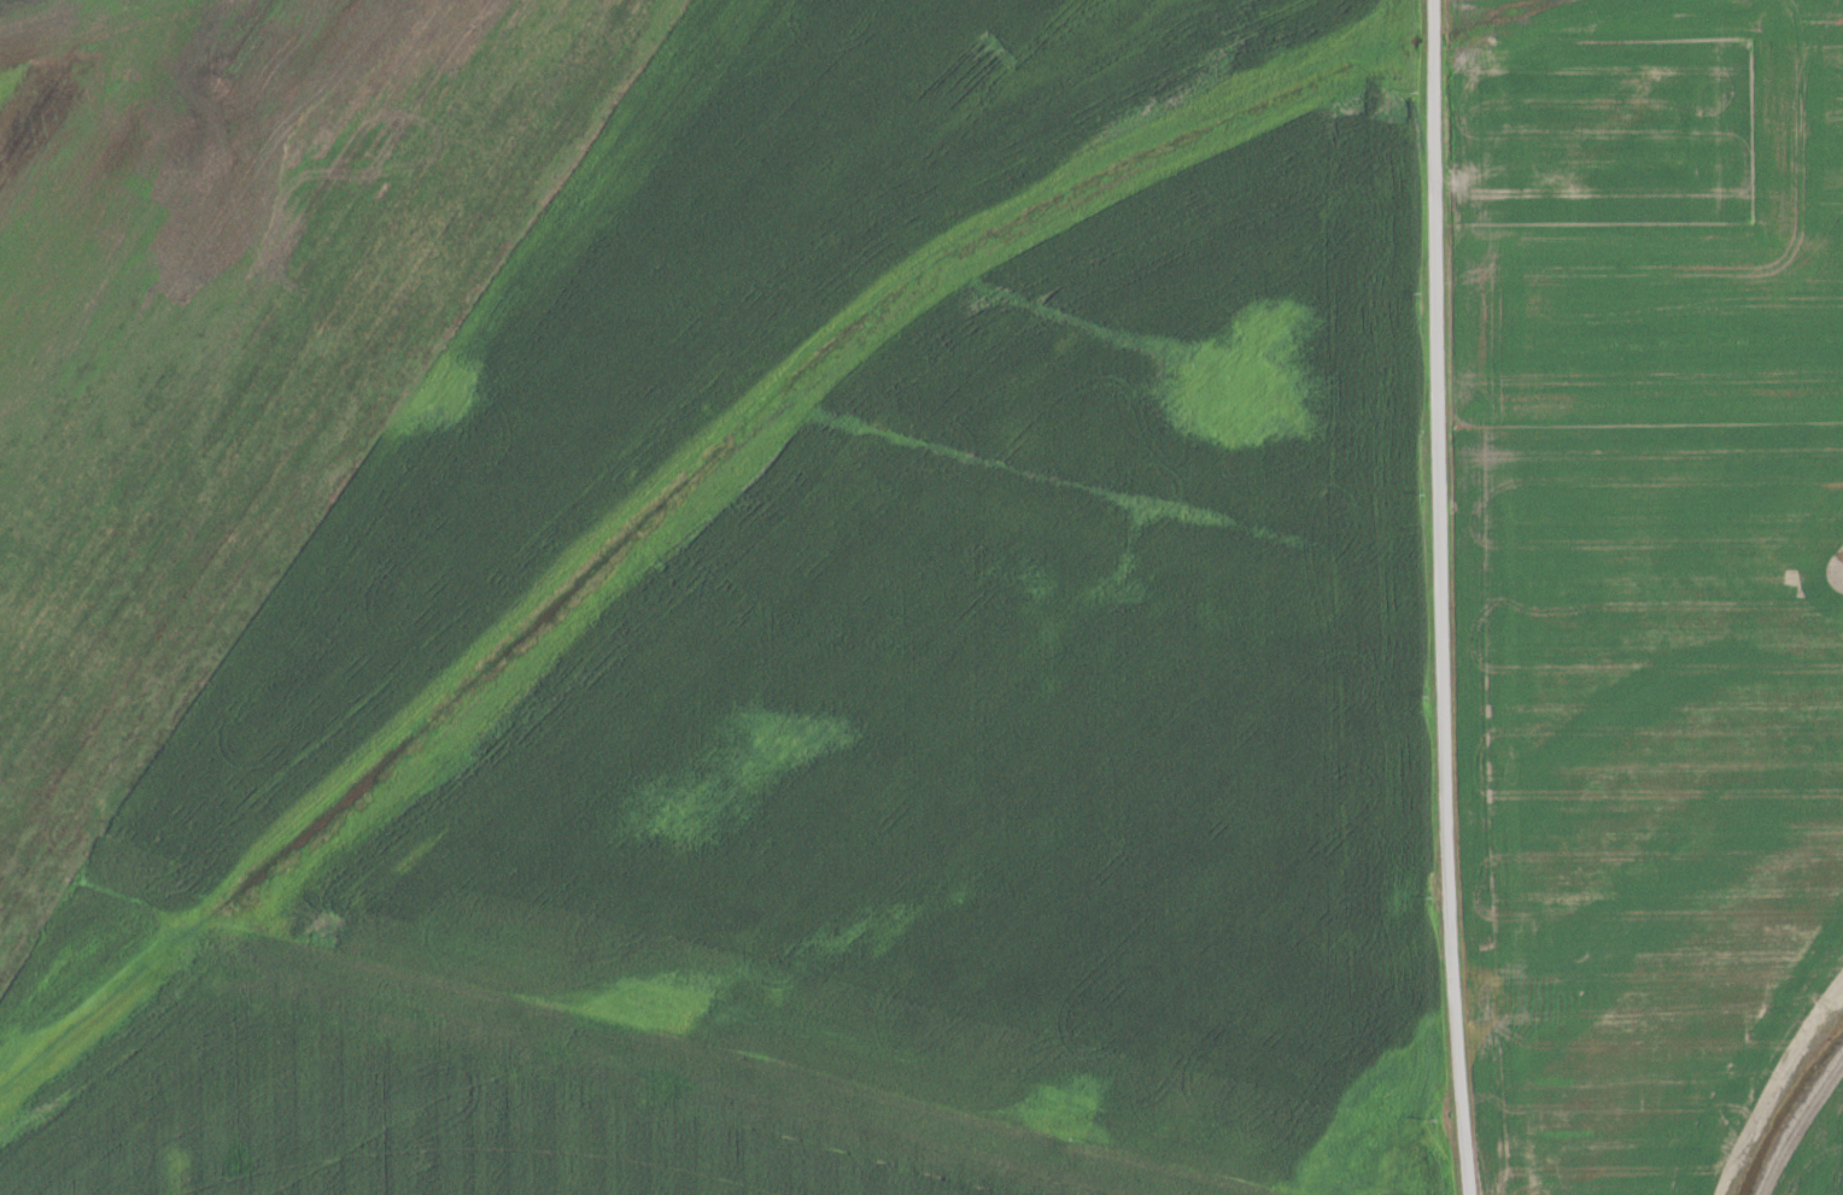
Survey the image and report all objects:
road: (1438, 597)

